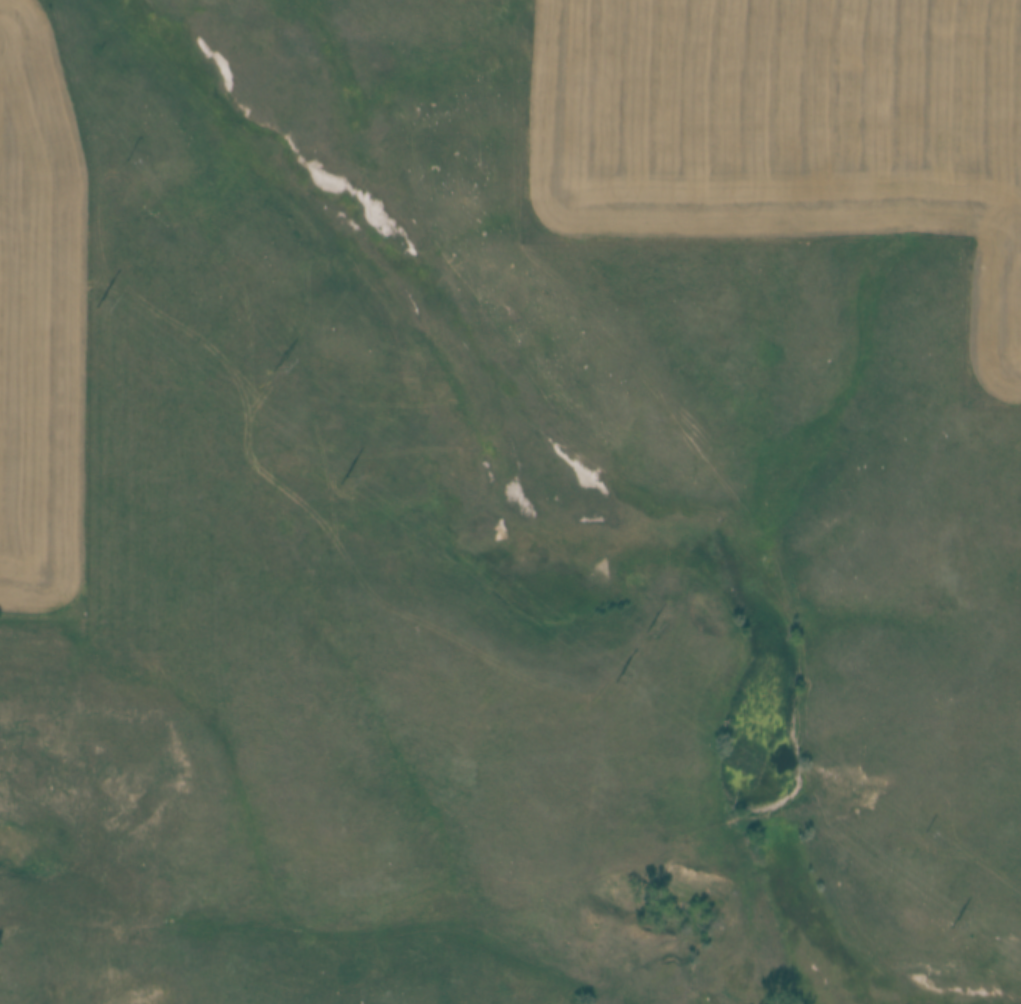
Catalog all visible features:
road: (16, 928)

